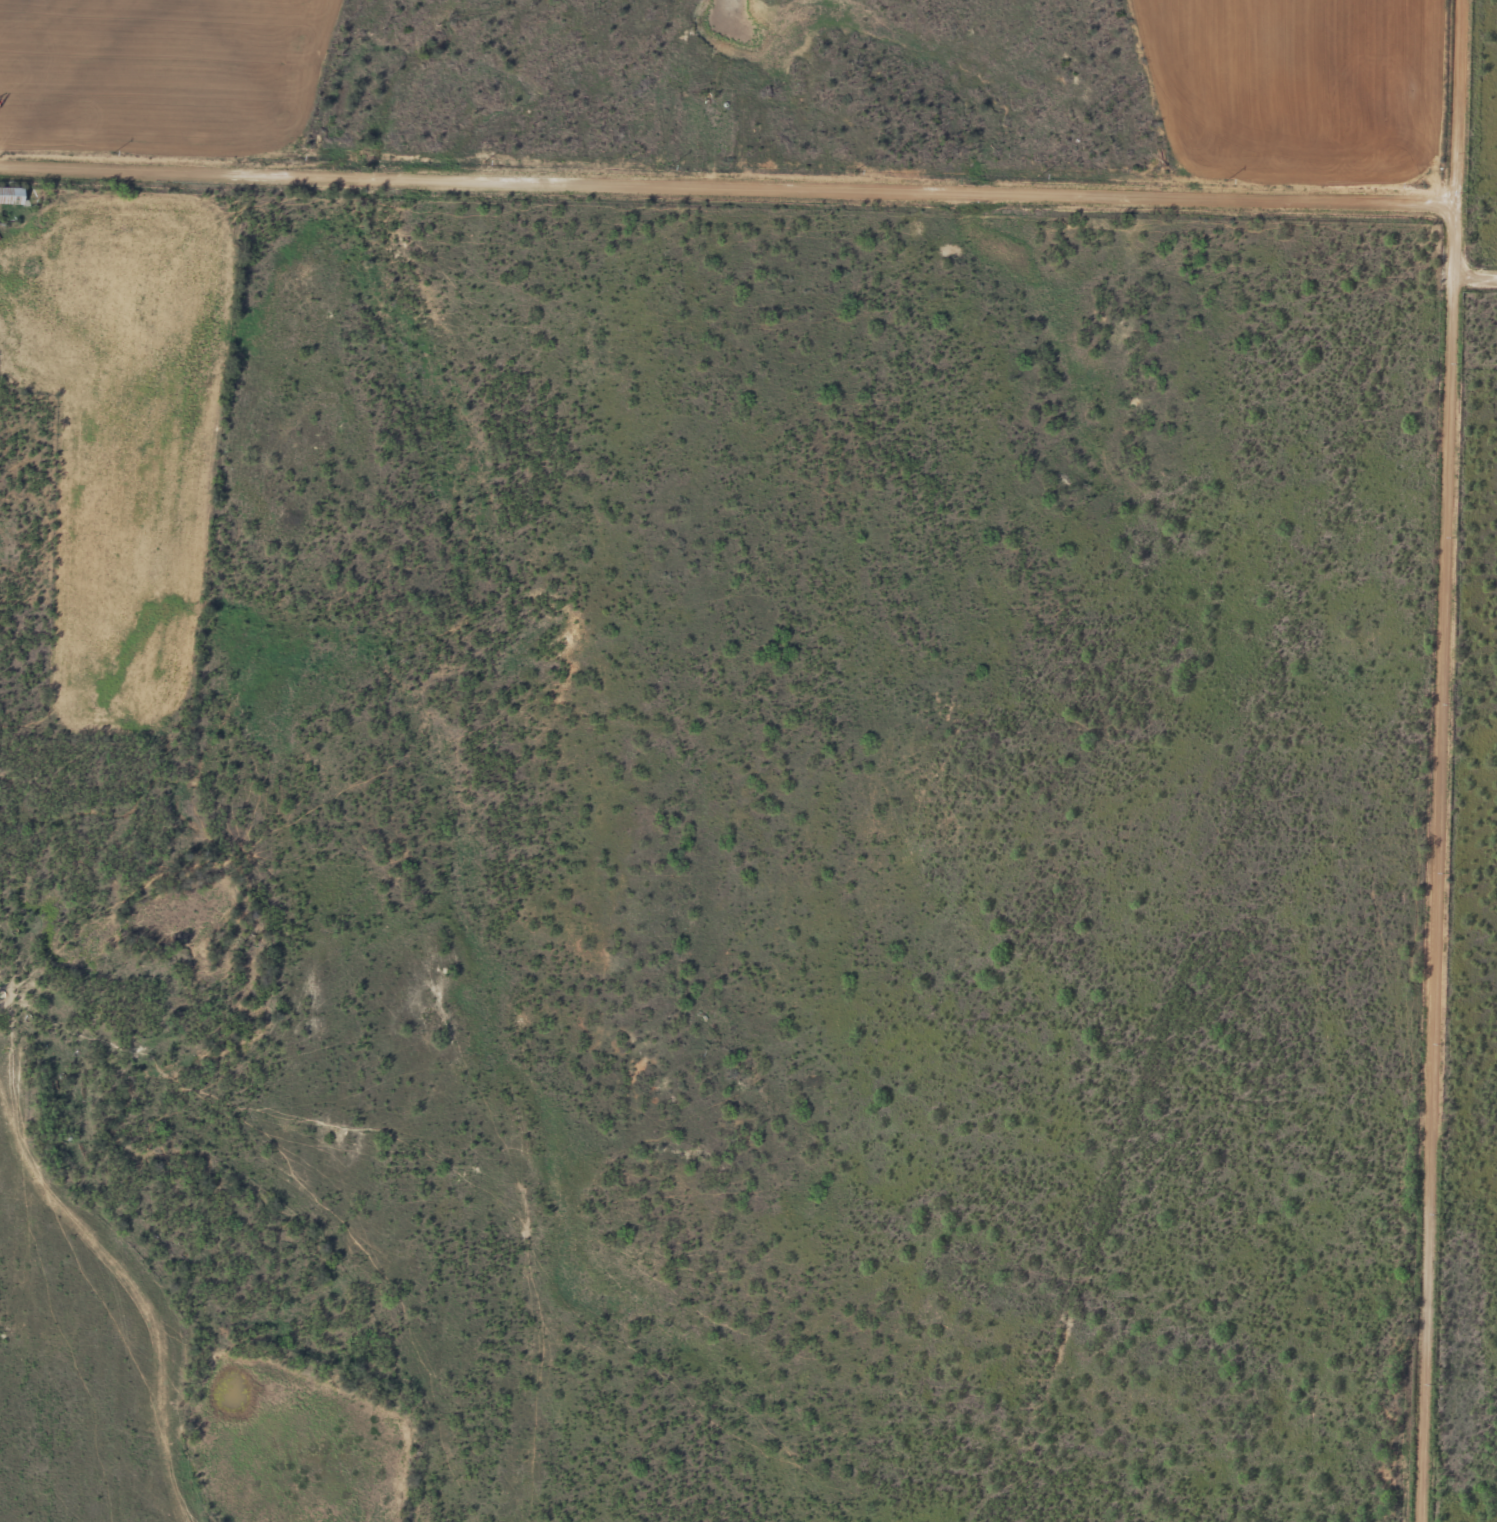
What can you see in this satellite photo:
road: (728, 182)
building: (11, 196)
road: (1476, 274)
road: (1443, 761)

